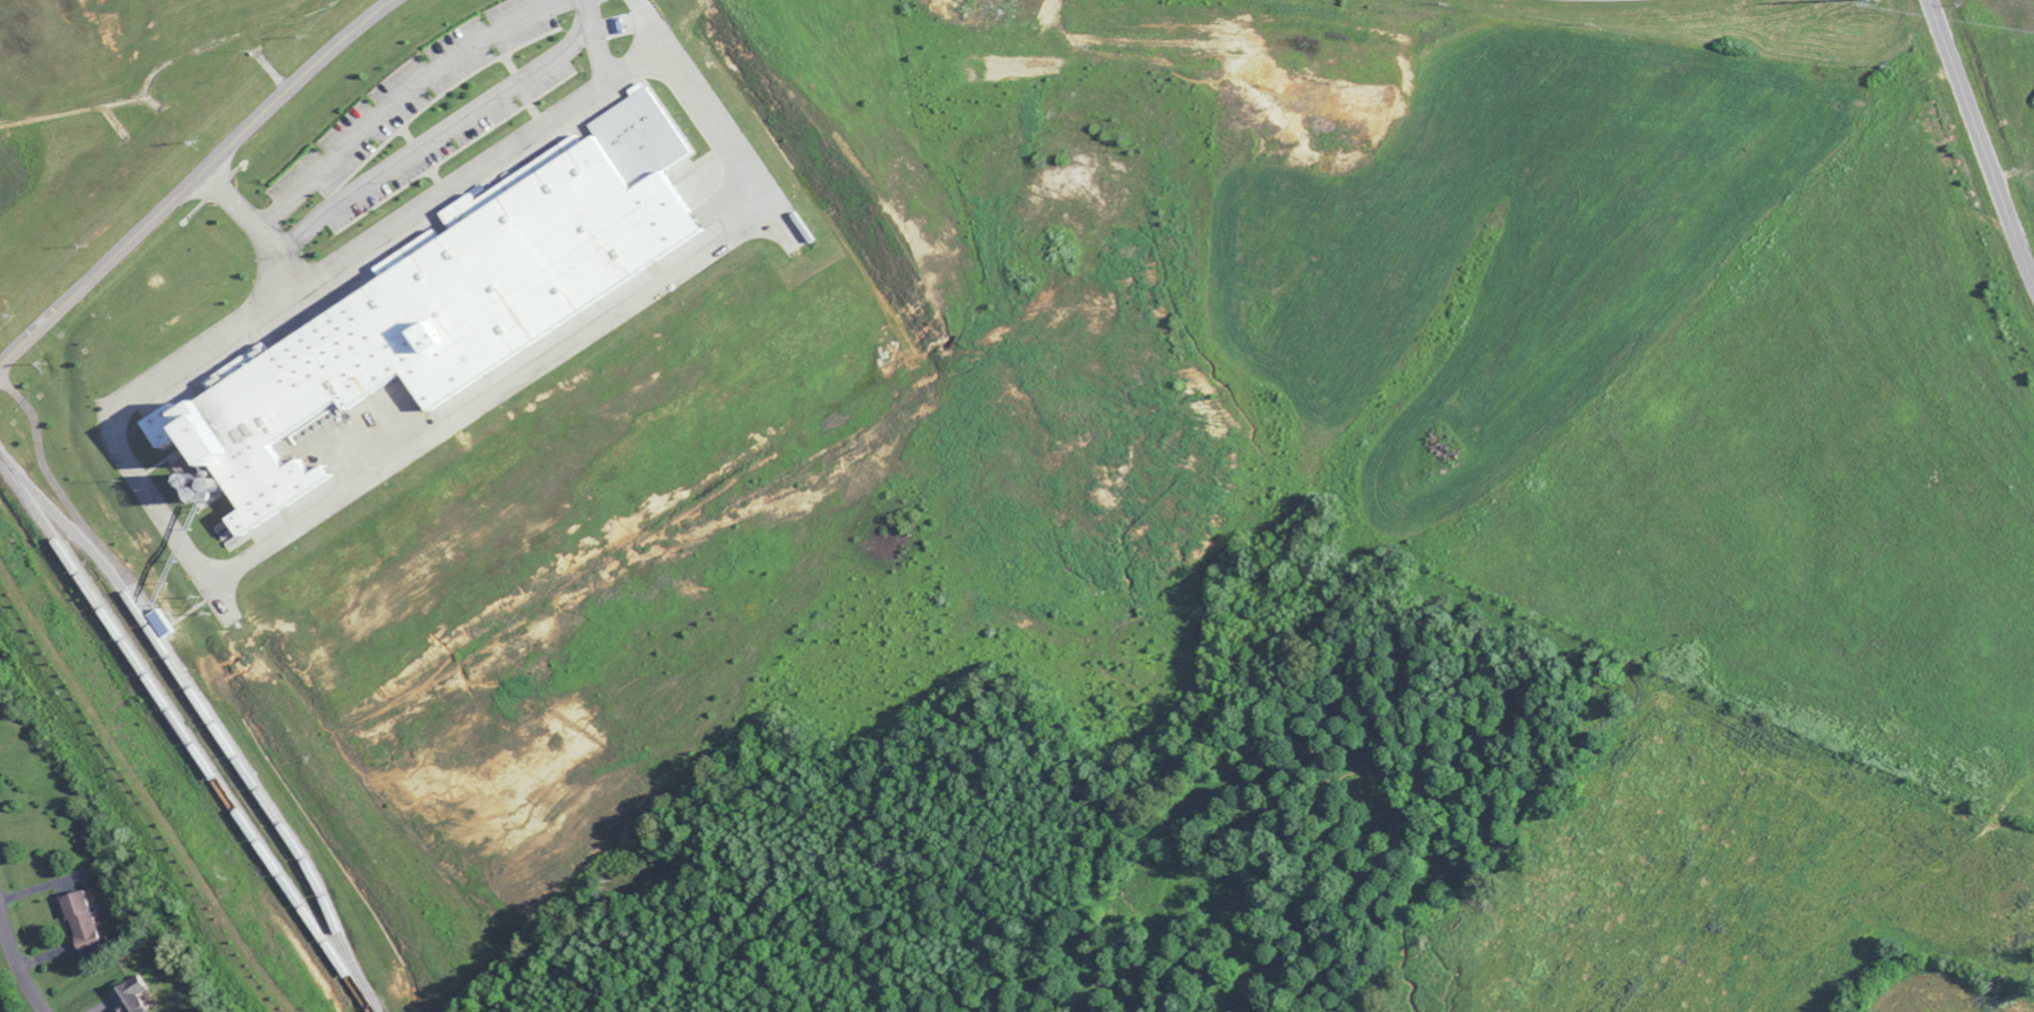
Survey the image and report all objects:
road: (366, 18)
road: (642, 62)
road: (399, 99)
road: (439, 141)
road: (1979, 145)
road: (482, 164)
road: (171, 200)
building: (412, 244)
building: (440, 305)
road: (353, 489)
building: (77, 916)
road: (16, 969)

